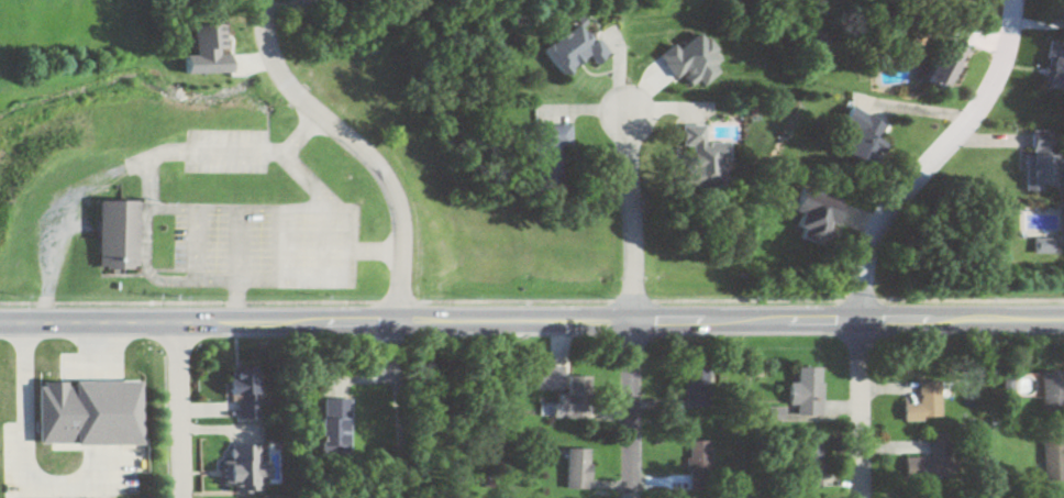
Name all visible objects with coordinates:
building: (961, 0)
building: (576, 47)
building: (949, 63)
building: (1055, 65)
road: (913, 108)
building: (865, 136)
road: (351, 147)
building: (551, 148)
building: (708, 153)
road: (941, 157)
road: (130, 158)
building: (1044, 159)
building: (816, 215)
road: (324, 228)
building: (117, 232)
building: (1045, 244)
road: (192, 276)
road: (239, 297)
road: (630, 306)
road: (531, 314)
road: (102, 350)
building: (561, 383)
building: (807, 386)
building: (697, 387)
building: (245, 391)
building: (1053, 391)
building: (924, 402)
road: (860, 405)
road: (180, 409)
building: (92, 411)
road: (102, 411)
building: (336, 423)
road: (21, 458)
road: (103, 461)
building: (932, 461)
building: (1053, 461)
building: (810, 463)
building: (697, 464)
building: (245, 467)
building: (577, 469)
building: (918, 496)

